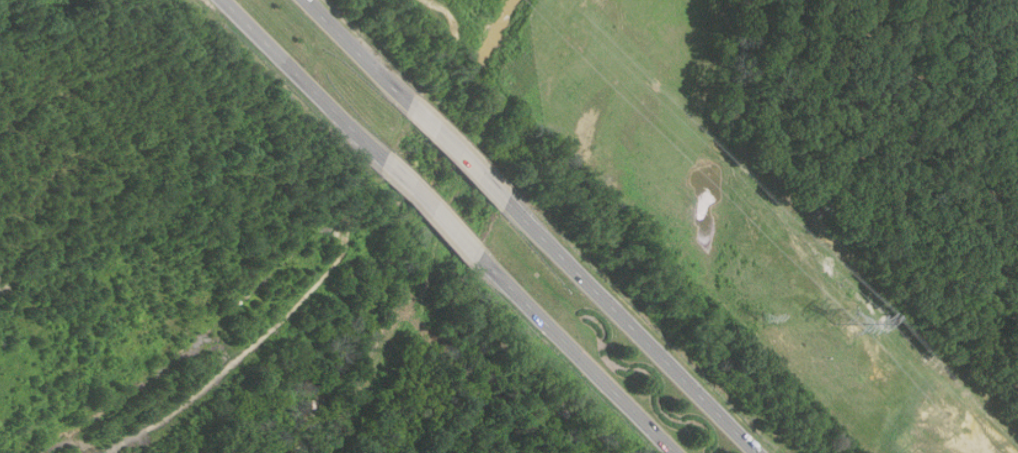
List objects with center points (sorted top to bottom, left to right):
road: (358, 52)
road: (304, 81)
road: (459, 154)
road: (433, 211)
park: (151, 249)
power tower: (764, 319)
power tower: (849, 324)
road: (632, 328)
road: (577, 356)

